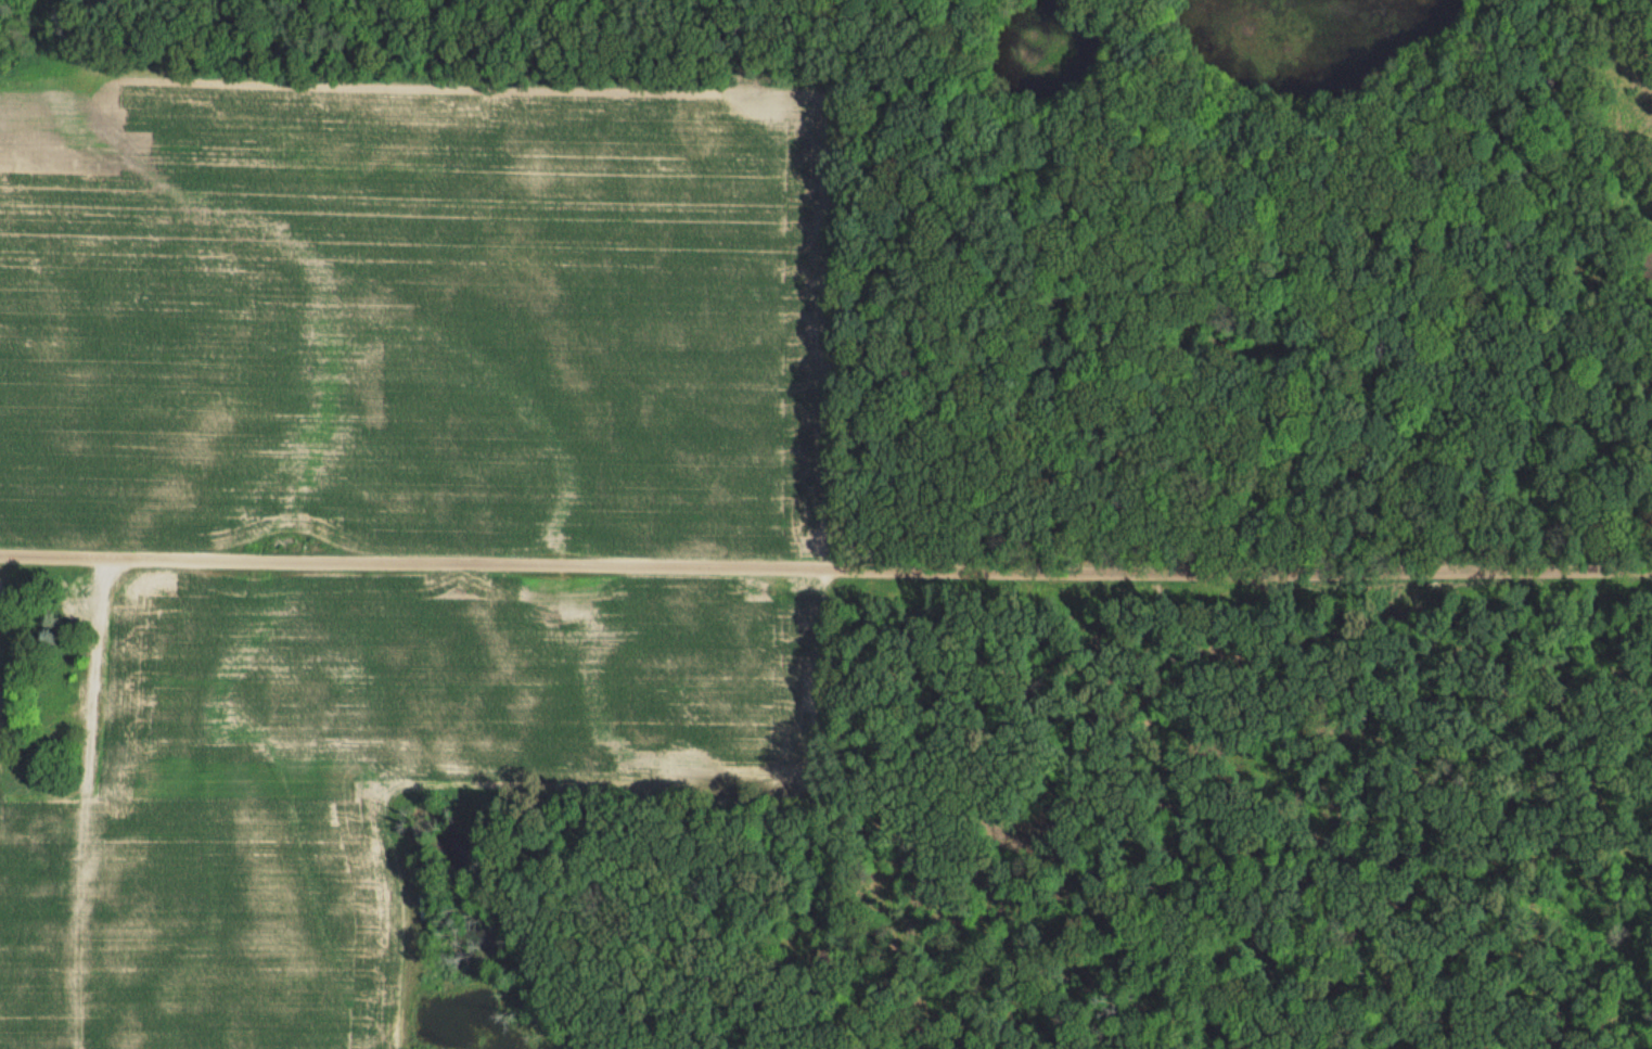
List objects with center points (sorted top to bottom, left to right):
road: (825, 571)

